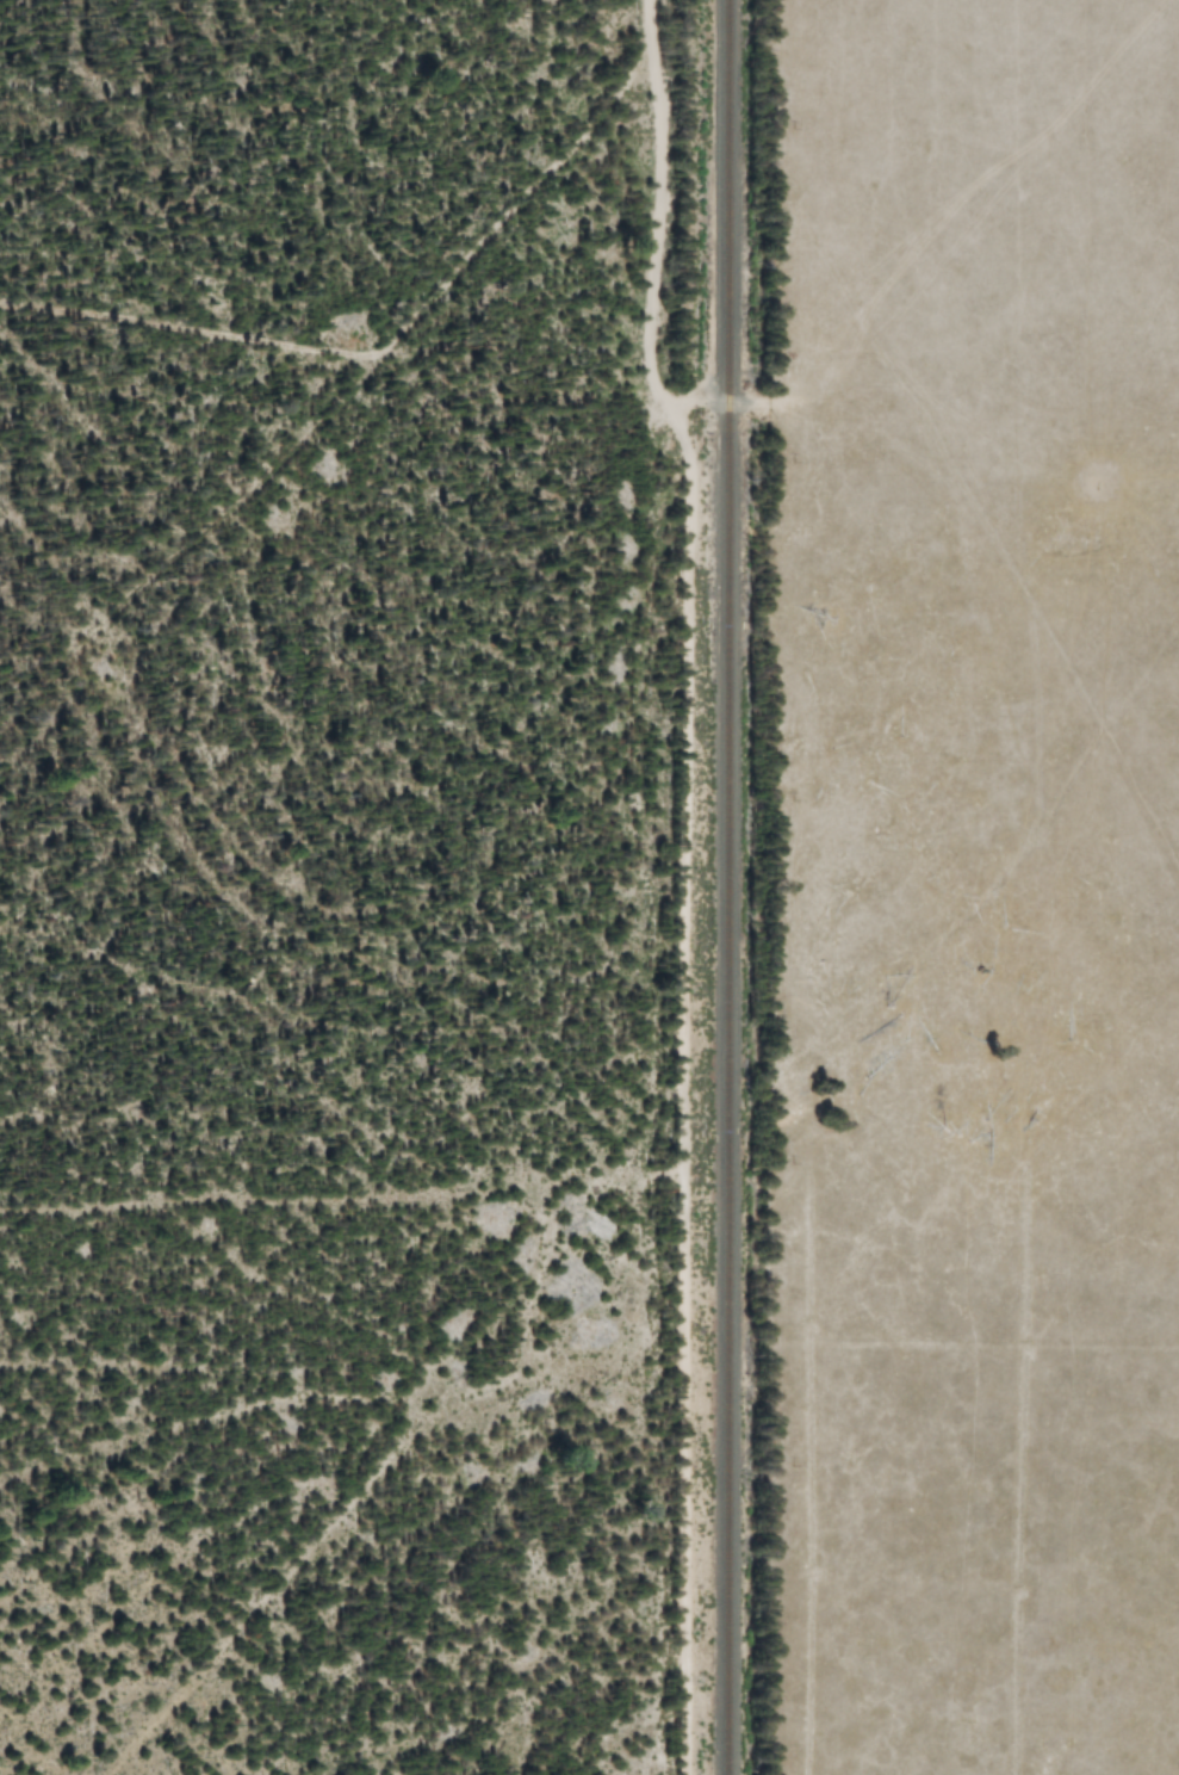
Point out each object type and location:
road: (402, 329)
railway: (724, 887)

